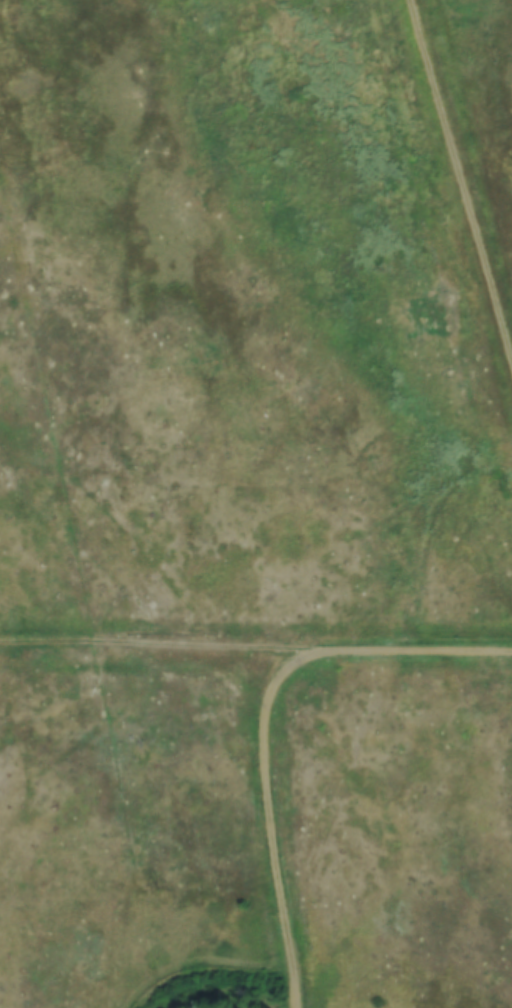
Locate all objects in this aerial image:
road: (162, 642)
road: (265, 722)

